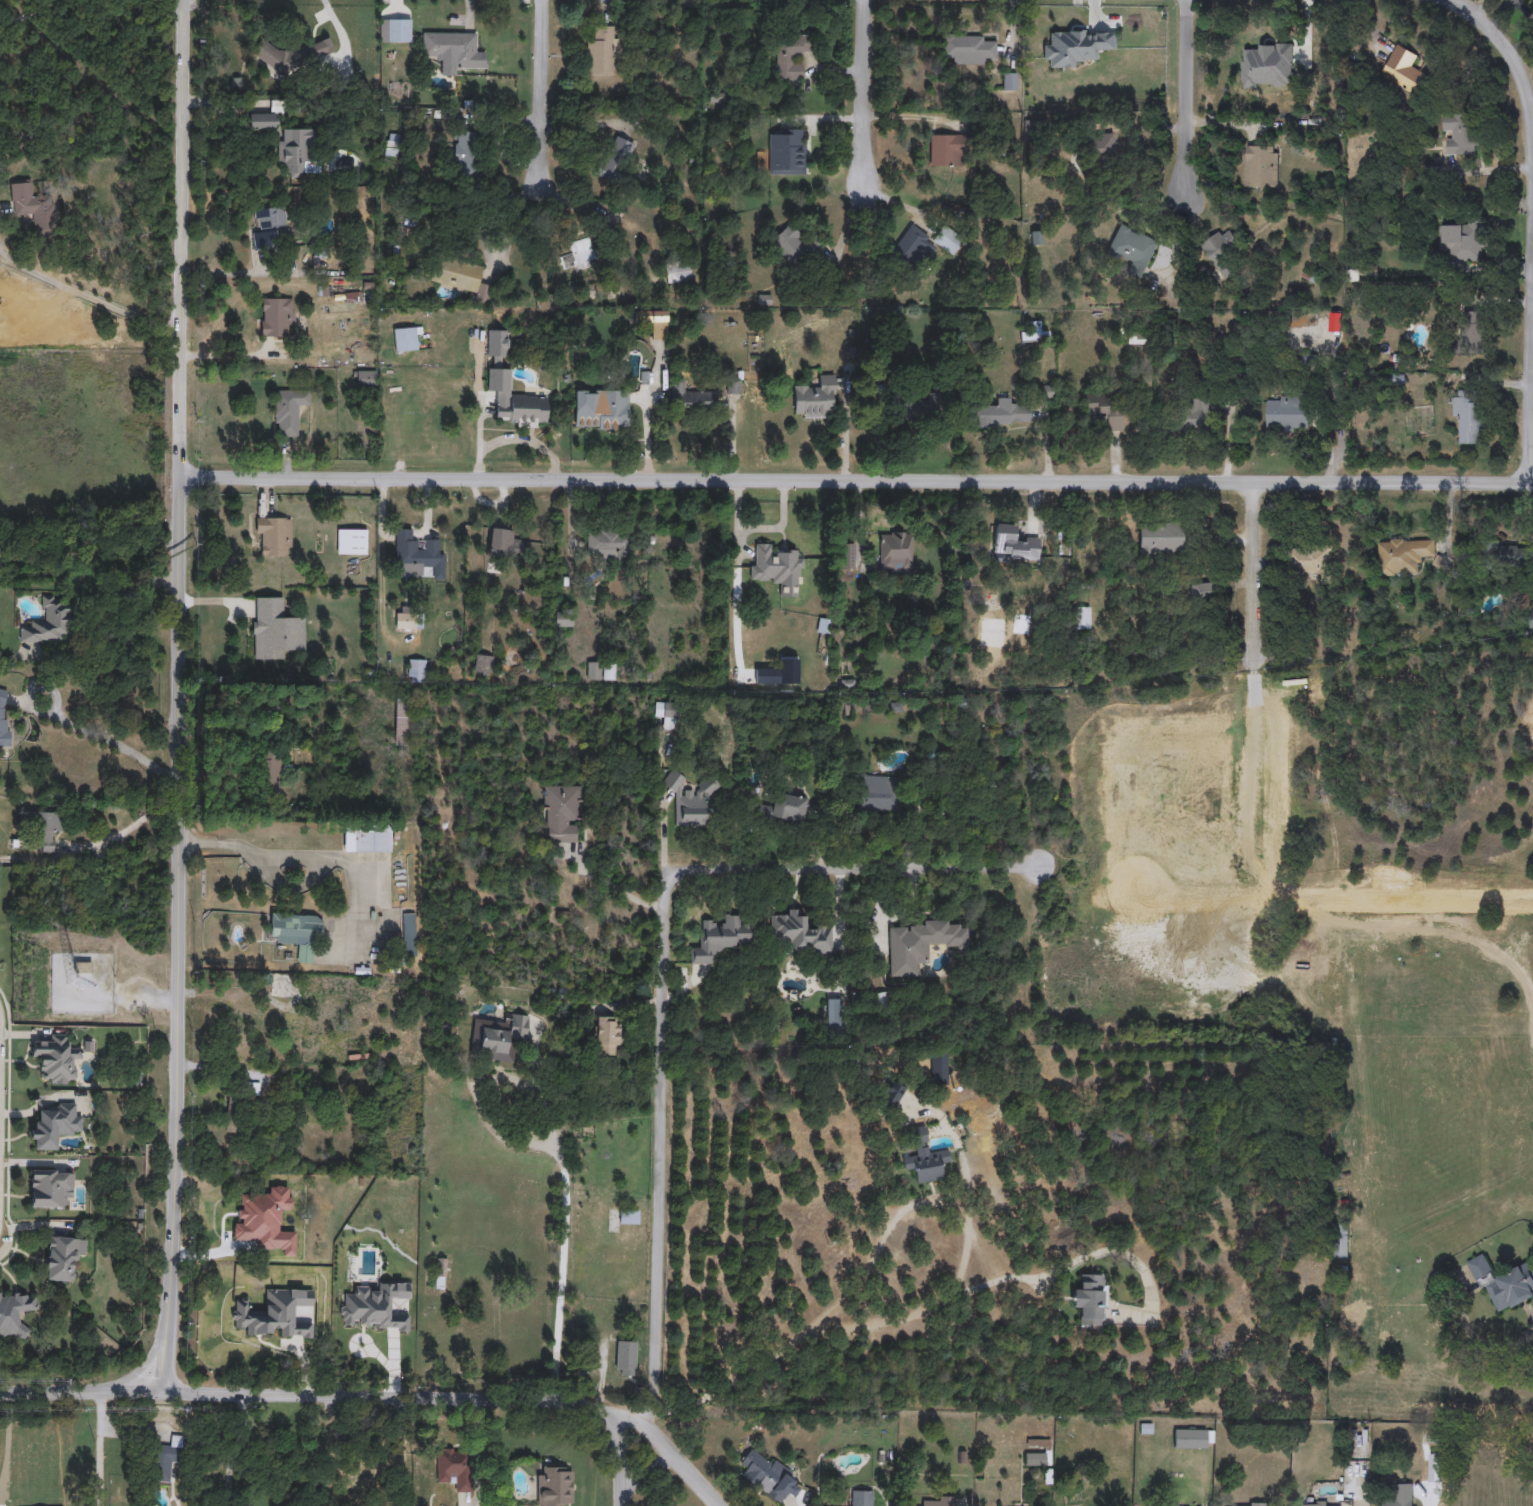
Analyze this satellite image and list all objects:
road: (27, 17)
building: (395, 30)
building: (1259, 44)
building: (320, 48)
building: (452, 48)
building: (968, 49)
building: (600, 51)
building: (269, 56)
building: (790, 56)
building: (1404, 71)
road: (539, 89)
road: (862, 92)
road: (1185, 101)
building: (263, 121)
building: (1459, 135)
building: (393, 146)
building: (1099, 149)
building: (946, 150)
building: (295, 151)
building: (787, 152)
building: (466, 155)
building: (613, 158)
building: (1261, 167)
building: (34, 209)
road: (1529, 223)
building: (270, 228)
building: (1038, 237)
building: (1463, 242)
building: (921, 245)
building: (796, 247)
building: (1133, 249)
building: (1223, 253)
building: (577, 256)
building: (678, 273)
building: (461, 278)
road: (83, 292)
building: (277, 316)
building: (653, 326)
building: (1471, 330)
building: (405, 339)
building: (1136, 339)
building: (366, 378)
building: (1398, 381)
building: (690, 398)
building: (816, 398)
building: (921, 408)
building: (289, 410)
building: (1105, 410)
building: (522, 412)
building: (600, 414)
building: (1286, 414)
building: (1000, 415)
building: (1196, 415)
building: (1468, 419)
road: (842, 431)
park: (91, 460)
road: (857, 481)
building: (274, 536)
building: (1162, 538)
building: (352, 541)
building: (503, 543)
building: (606, 544)
building: (1014, 546)
building: (896, 553)
building: (418, 555)
building: (1503, 555)
building: (1404, 556)
building: (1311, 564)
building: (775, 566)
road: (1253, 577)
building: (1203, 592)
building: (1084, 618)
building: (564, 619)
building: (405, 620)
building: (49, 621)
building: (275, 630)
building: (1403, 638)
road: (127, 642)
building: (484, 664)
building: (416, 671)
building: (593, 671)
building: (609, 672)
building: (1317, 692)
road: (180, 696)
building: (666, 714)
building: (4, 717)
building: (401, 721)
road: (71, 724)
parking lot: (1264, 737)
park: (1214, 751)
park: (1181, 752)
park: (1150, 754)
park: (1118, 756)
building: (272, 774)
building: (876, 792)
building: (690, 799)
building: (1180, 805)
building: (784, 809)
building: (562, 814)
building: (45, 826)
road: (136, 826)
road: (664, 838)
building: (367, 839)
road: (250, 850)
park: (1220, 858)
park: (1187, 860)
park: (1154, 862)
park: (1121, 865)
road: (853, 870)
road: (614, 889)
building: (297, 933)
building: (409, 934)
building: (798, 935)
building: (720, 938)
building: (921, 945)
building: (280, 985)
building: (833, 1016)
building: (501, 1036)
building: (609, 1036)
building: (56, 1057)
building: (939, 1069)
building: (892, 1094)
building: (234, 1121)
building: (54, 1124)
road: (556, 1153)
road: (661, 1153)
building: (925, 1158)
building: (49, 1185)
building: (215, 1202)
building: (629, 1217)
road: (966, 1241)
building: (1341, 1242)
building: (63, 1255)
building: (293, 1265)
road: (1015, 1278)
building: (1503, 1284)
building: (1091, 1300)
road: (830, 1310)
building: (15, 1311)
building: (1349, 1319)
building: (625, 1359)
road: (307, 1394)
road: (650, 1424)
building: (1193, 1439)
road: (99, 1448)
road: (236, 1449)
road: (402, 1452)
road: (668, 1455)
building: (166, 1458)
building: (1035, 1460)
road: (616, 1462)
building: (455, 1466)
building: (767, 1475)
building: (360, 1479)
building: (554, 1486)
building: (1399, 1496)
road: (1368, 1497)
building: (863, 1498)
road: (1434, 1498)
building: (938, 1501)
road: (329, 1503)
building: (1250, 1504)
building: (1317, 1504)

